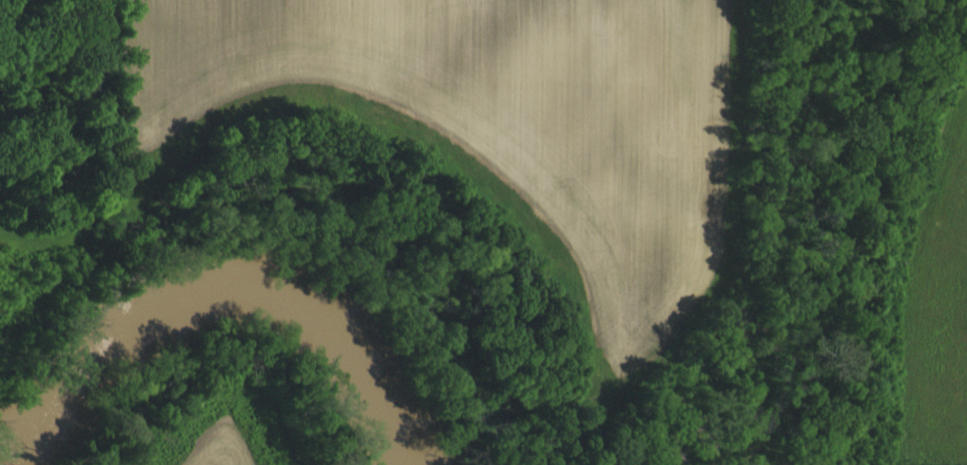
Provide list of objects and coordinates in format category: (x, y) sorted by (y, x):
river: (217, 287)

